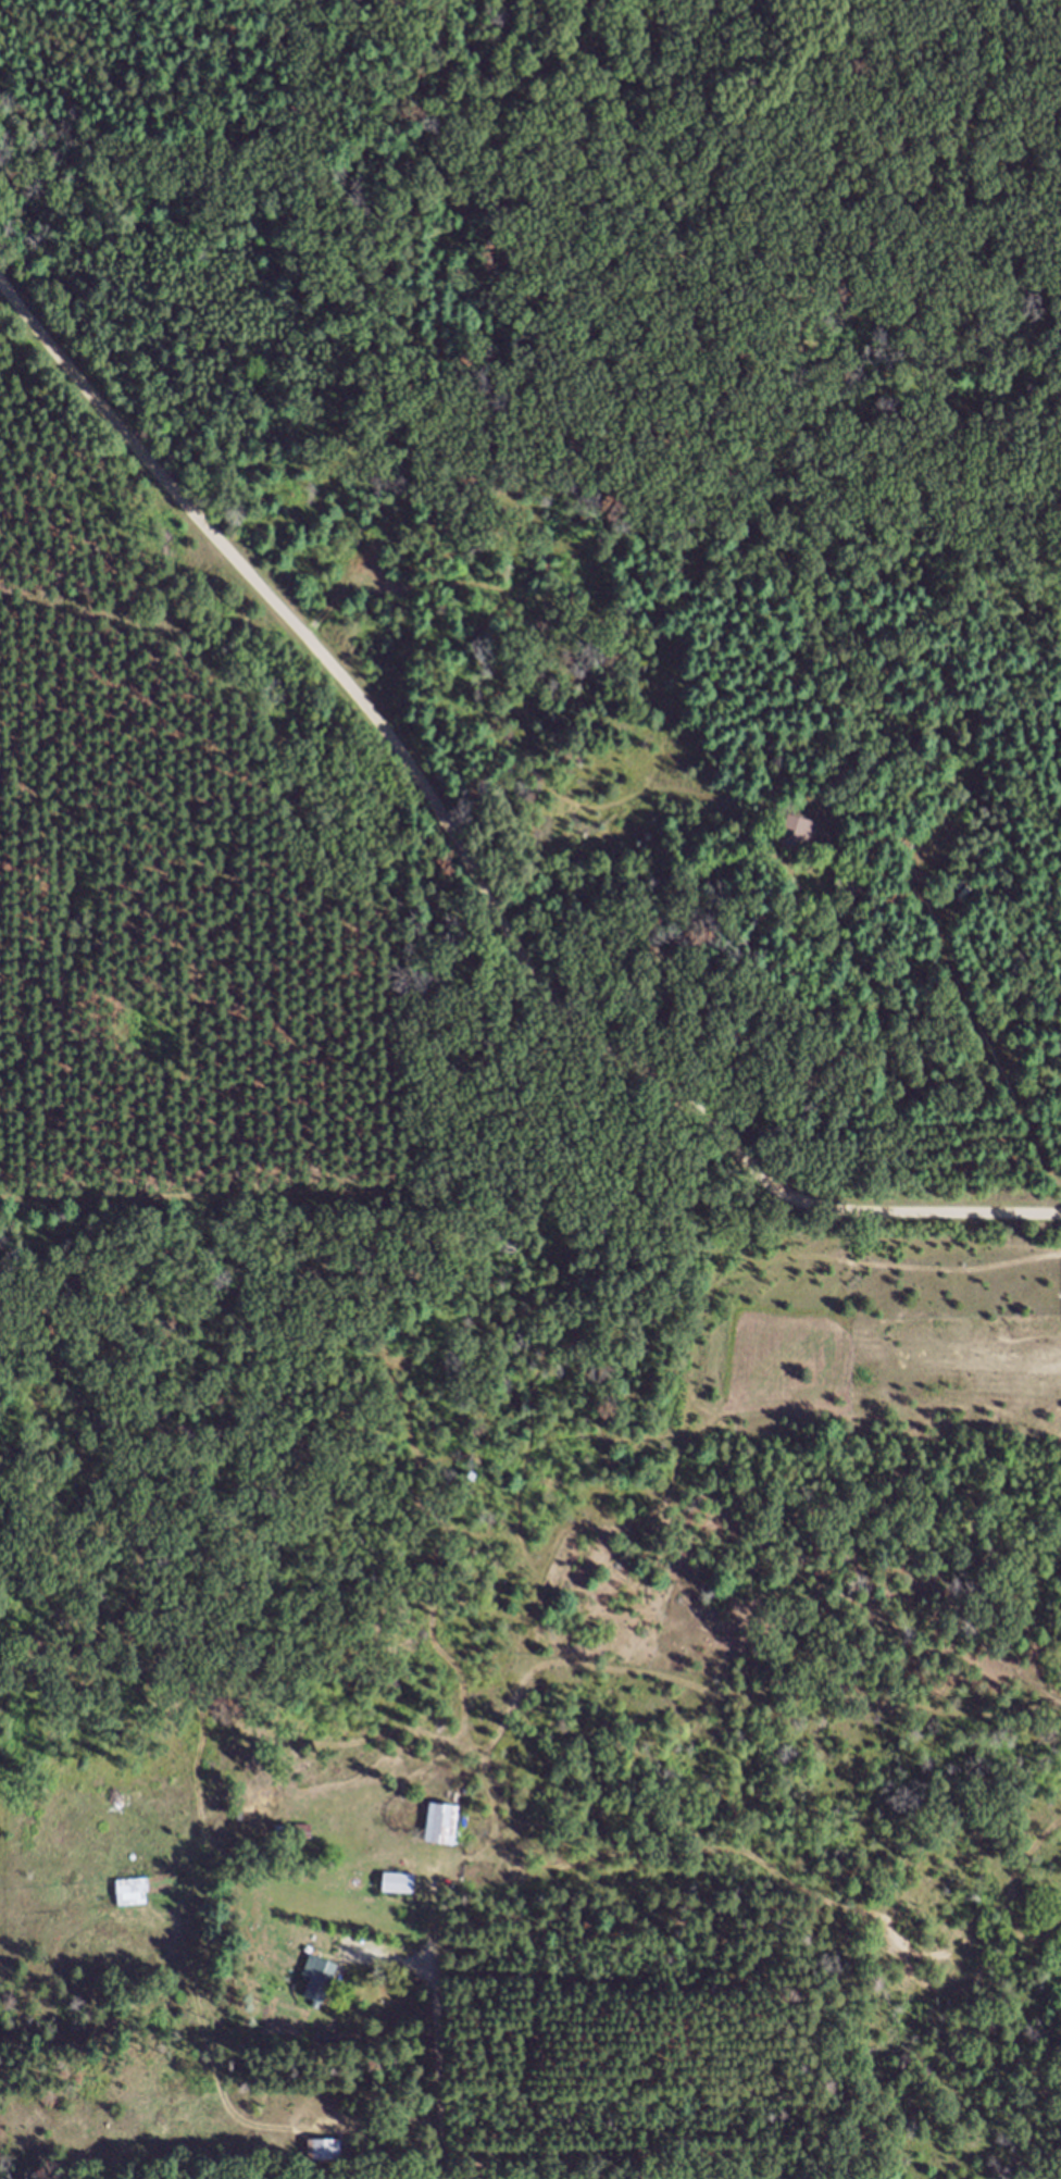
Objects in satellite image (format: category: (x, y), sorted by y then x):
building: (797, 842)
road: (466, 861)
building: (439, 1834)
building: (396, 1893)
building: (130, 1902)
building: (314, 1989)
building: (322, 2159)

